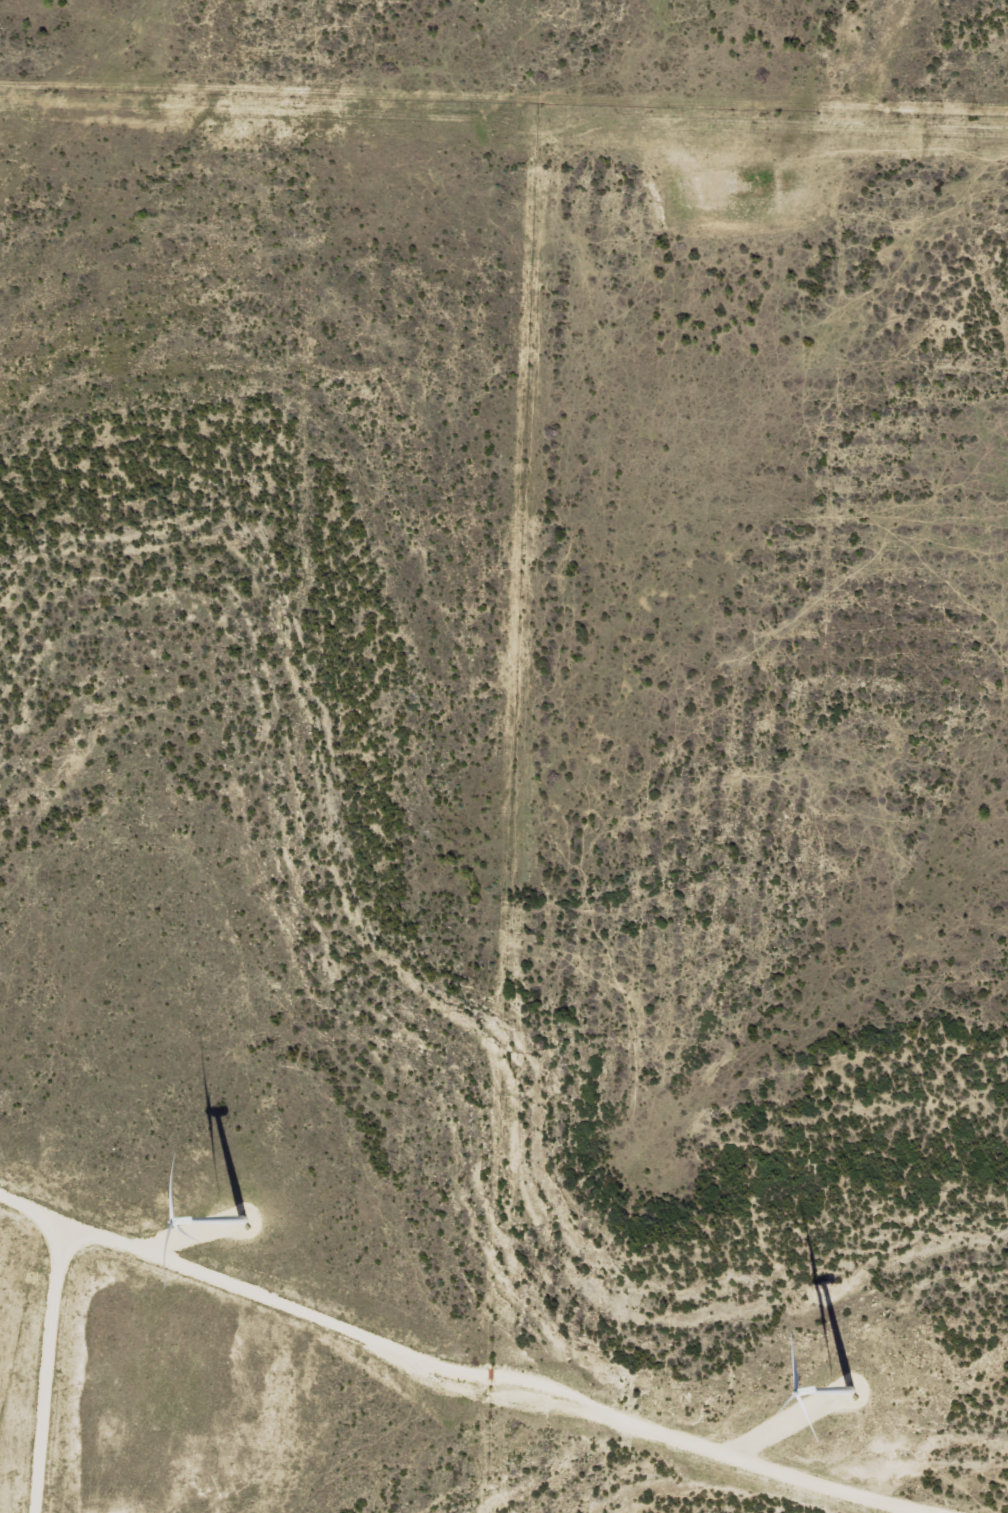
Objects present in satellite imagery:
wind turbine: (241, 1221)
road: (47, 1366)
road: (470, 1375)
wind turbine: (850, 1393)

